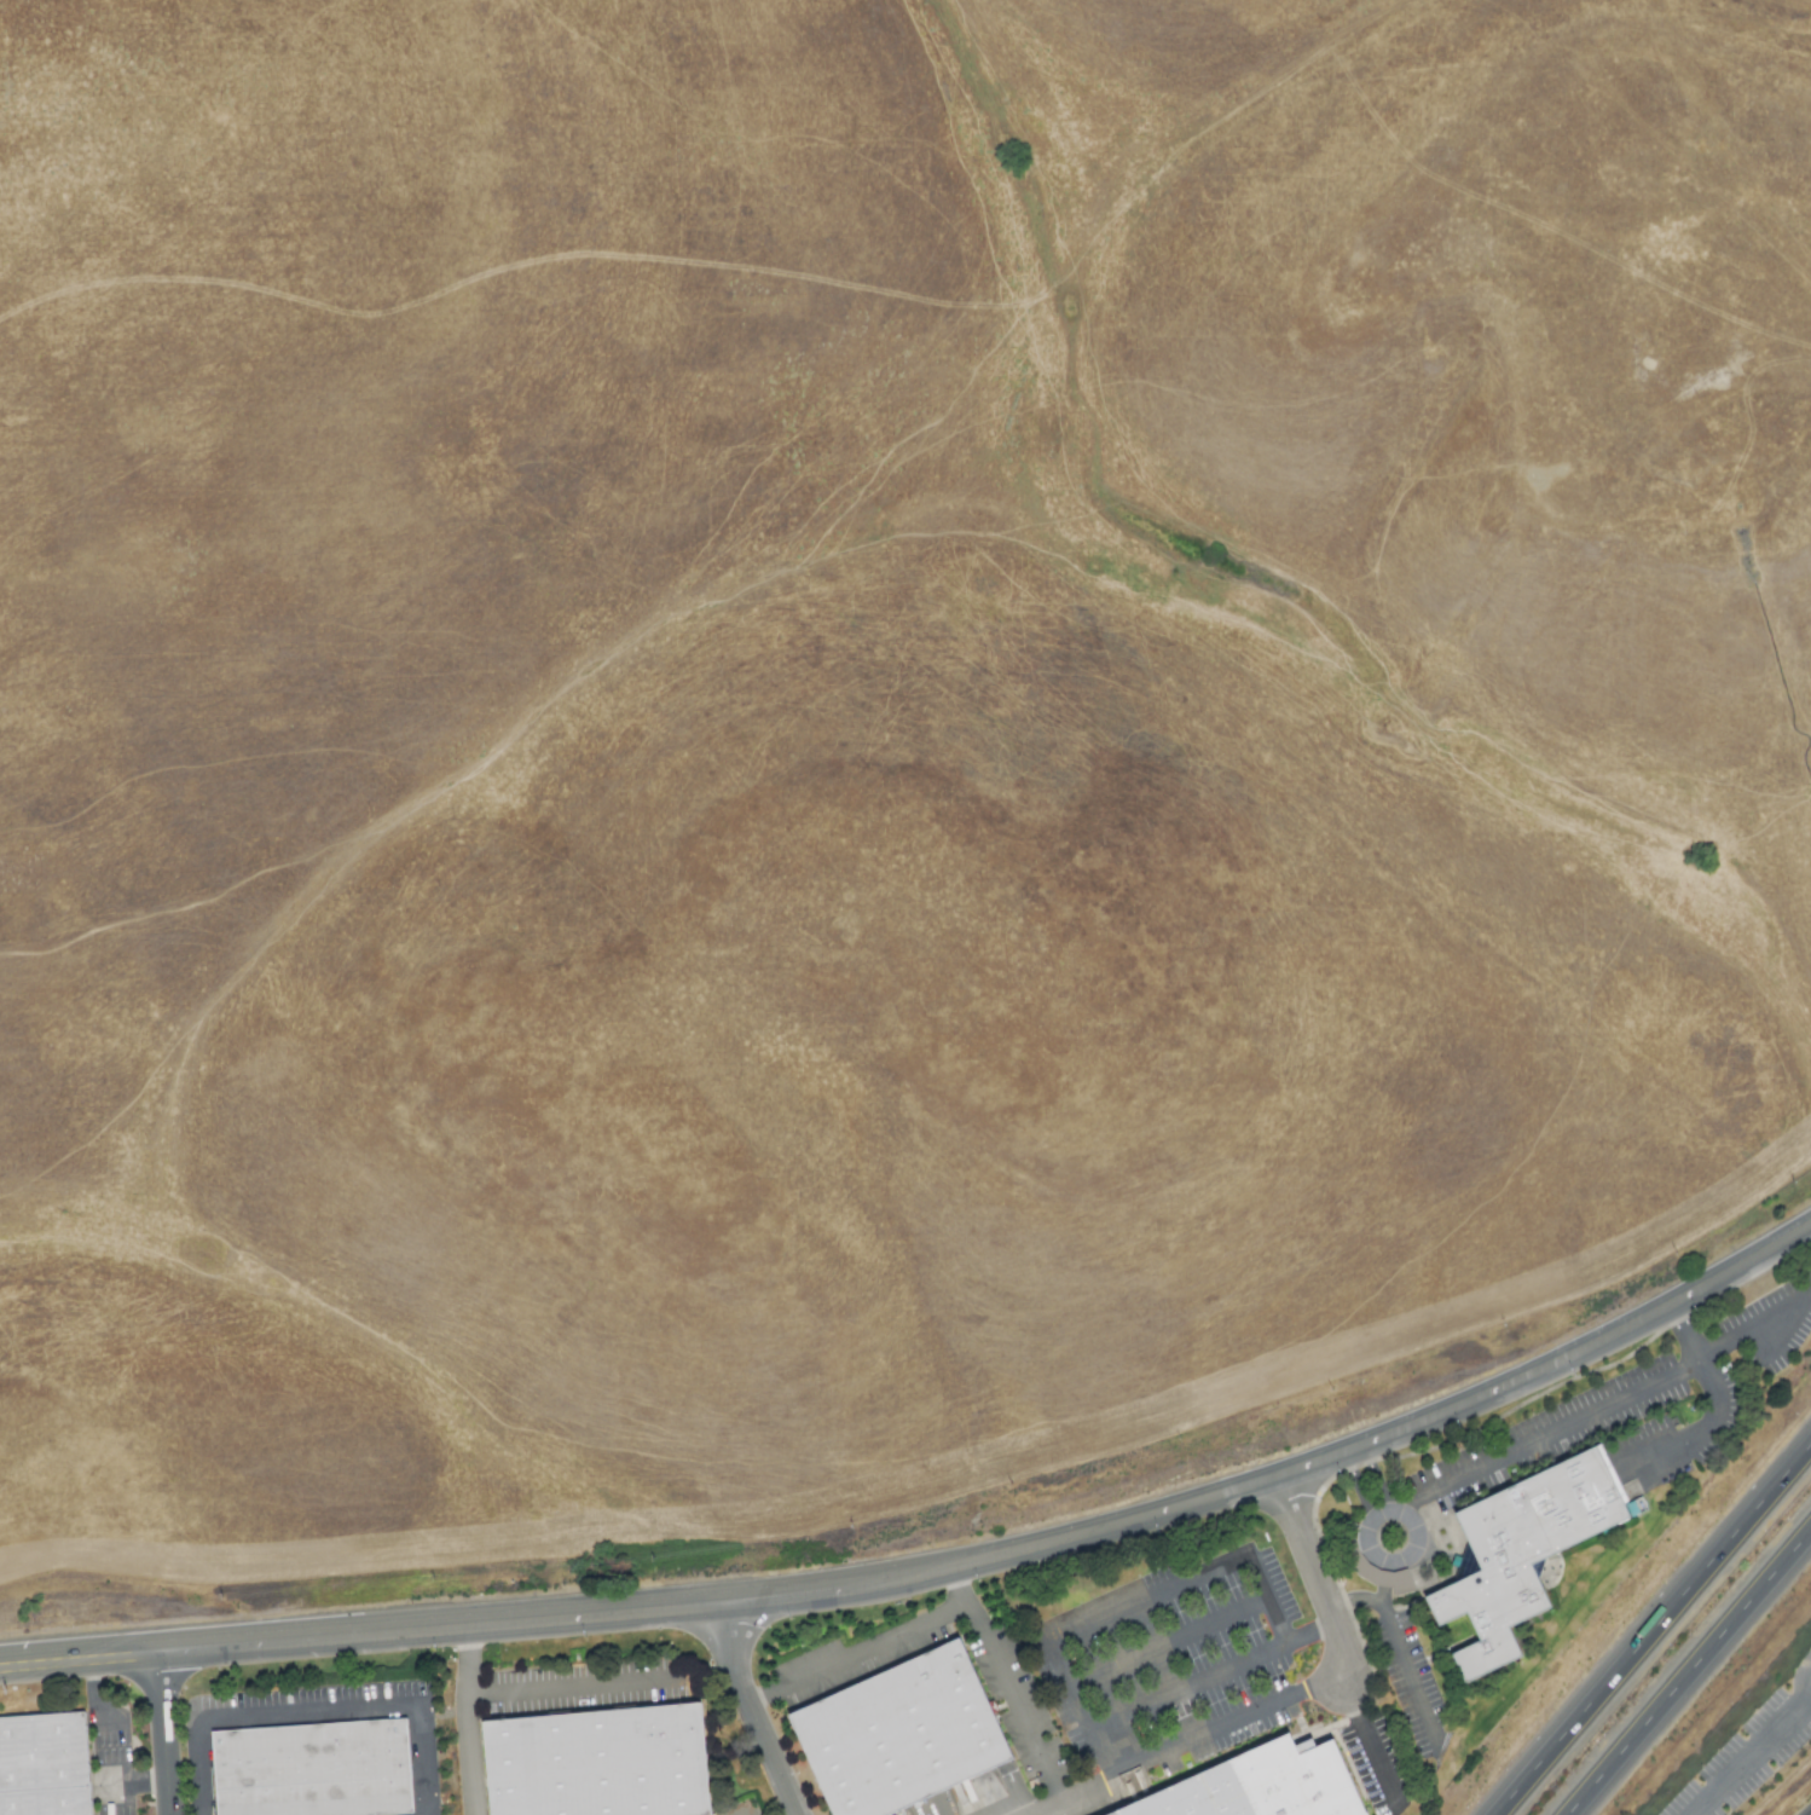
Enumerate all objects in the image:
road: (1757, 1326)
parking lot: (1772, 1331)
road: (1726, 1409)
road: (1398, 1433)
parking lot: (1553, 1435)
road: (1553, 1435)
road: (1379, 1516)
building: (1529, 1556)
building: (1466, 1565)
road: (1388, 1584)
road: (962, 1588)
road: (1145, 1599)
road: (956, 1612)
road: (557, 1620)
road: (1653, 1629)
road: (1163, 1641)
road: (1402, 1649)
road: (79, 1659)
road: (1688, 1671)
road: (1809, 1674)
parking lot: (1413, 1682)
road: (578, 1689)
road: (1186, 1690)
parking lot: (585, 1692)
road: (1284, 1701)
road: (96, 1709)
road: (750, 1712)
road: (319, 1715)
road: (471, 1721)
road: (164, 1734)
road: (1367, 1738)
building: (904, 1740)
road: (1753, 1758)
parking lot: (1748, 1759)
building: (45, 1767)
building: (602, 1767)
building: (317, 1773)
road: (123, 1788)
building: (1272, 1788)

